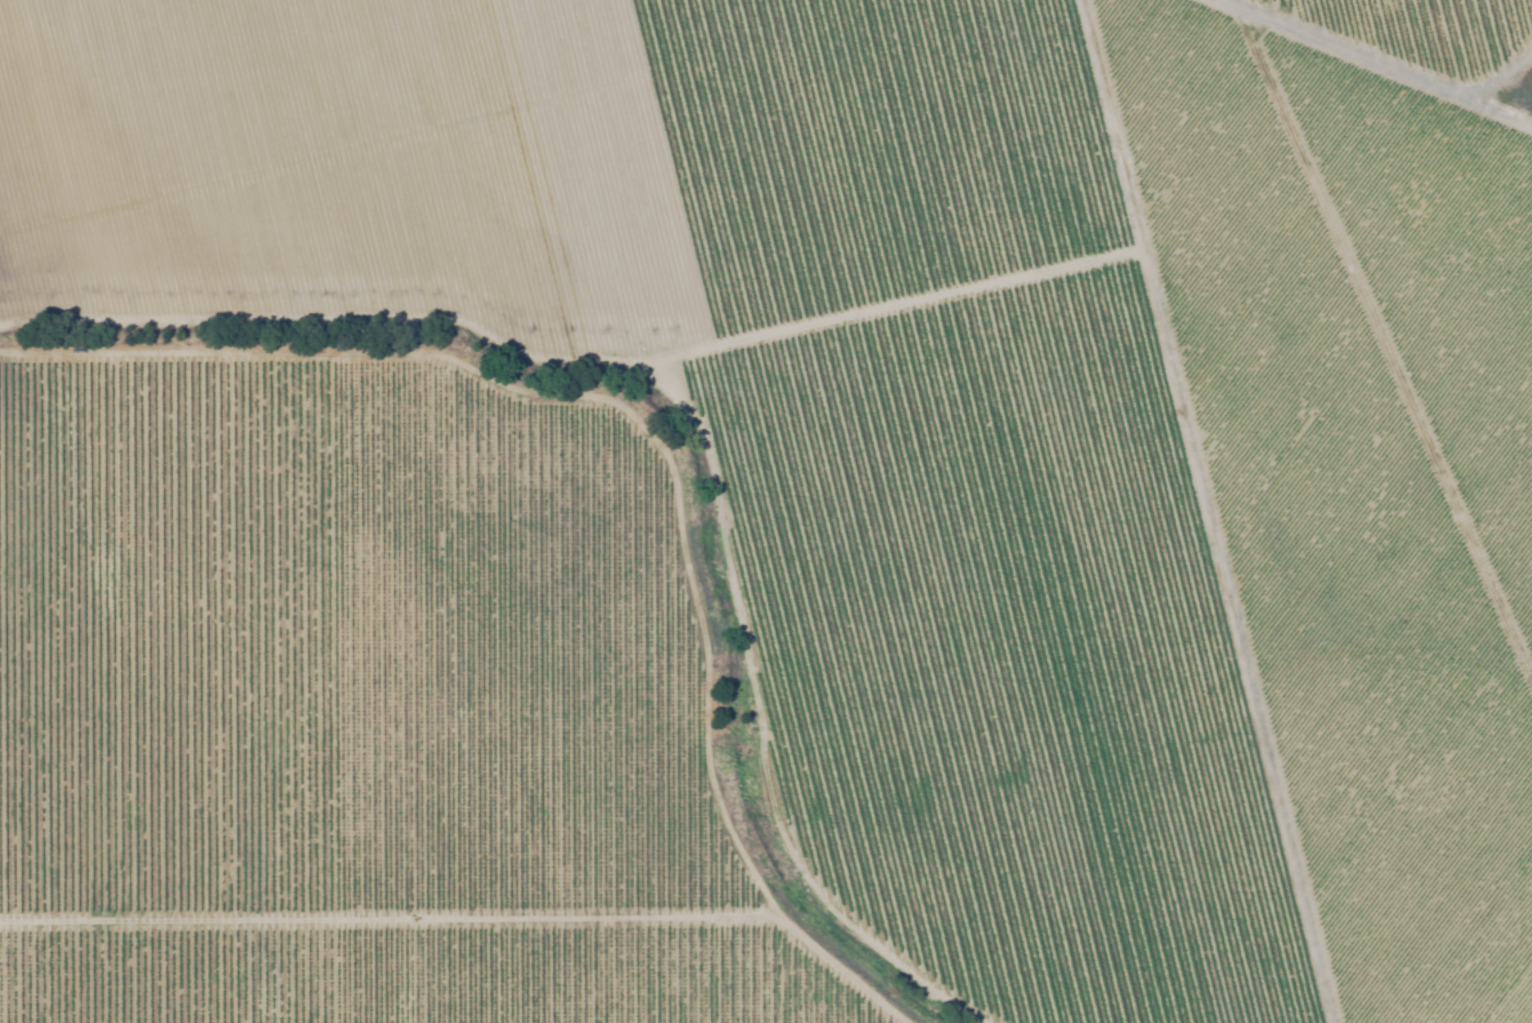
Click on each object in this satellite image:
road: (1371, 62)
road: (1500, 74)
road: (1378, 359)
road: (1193, 511)

